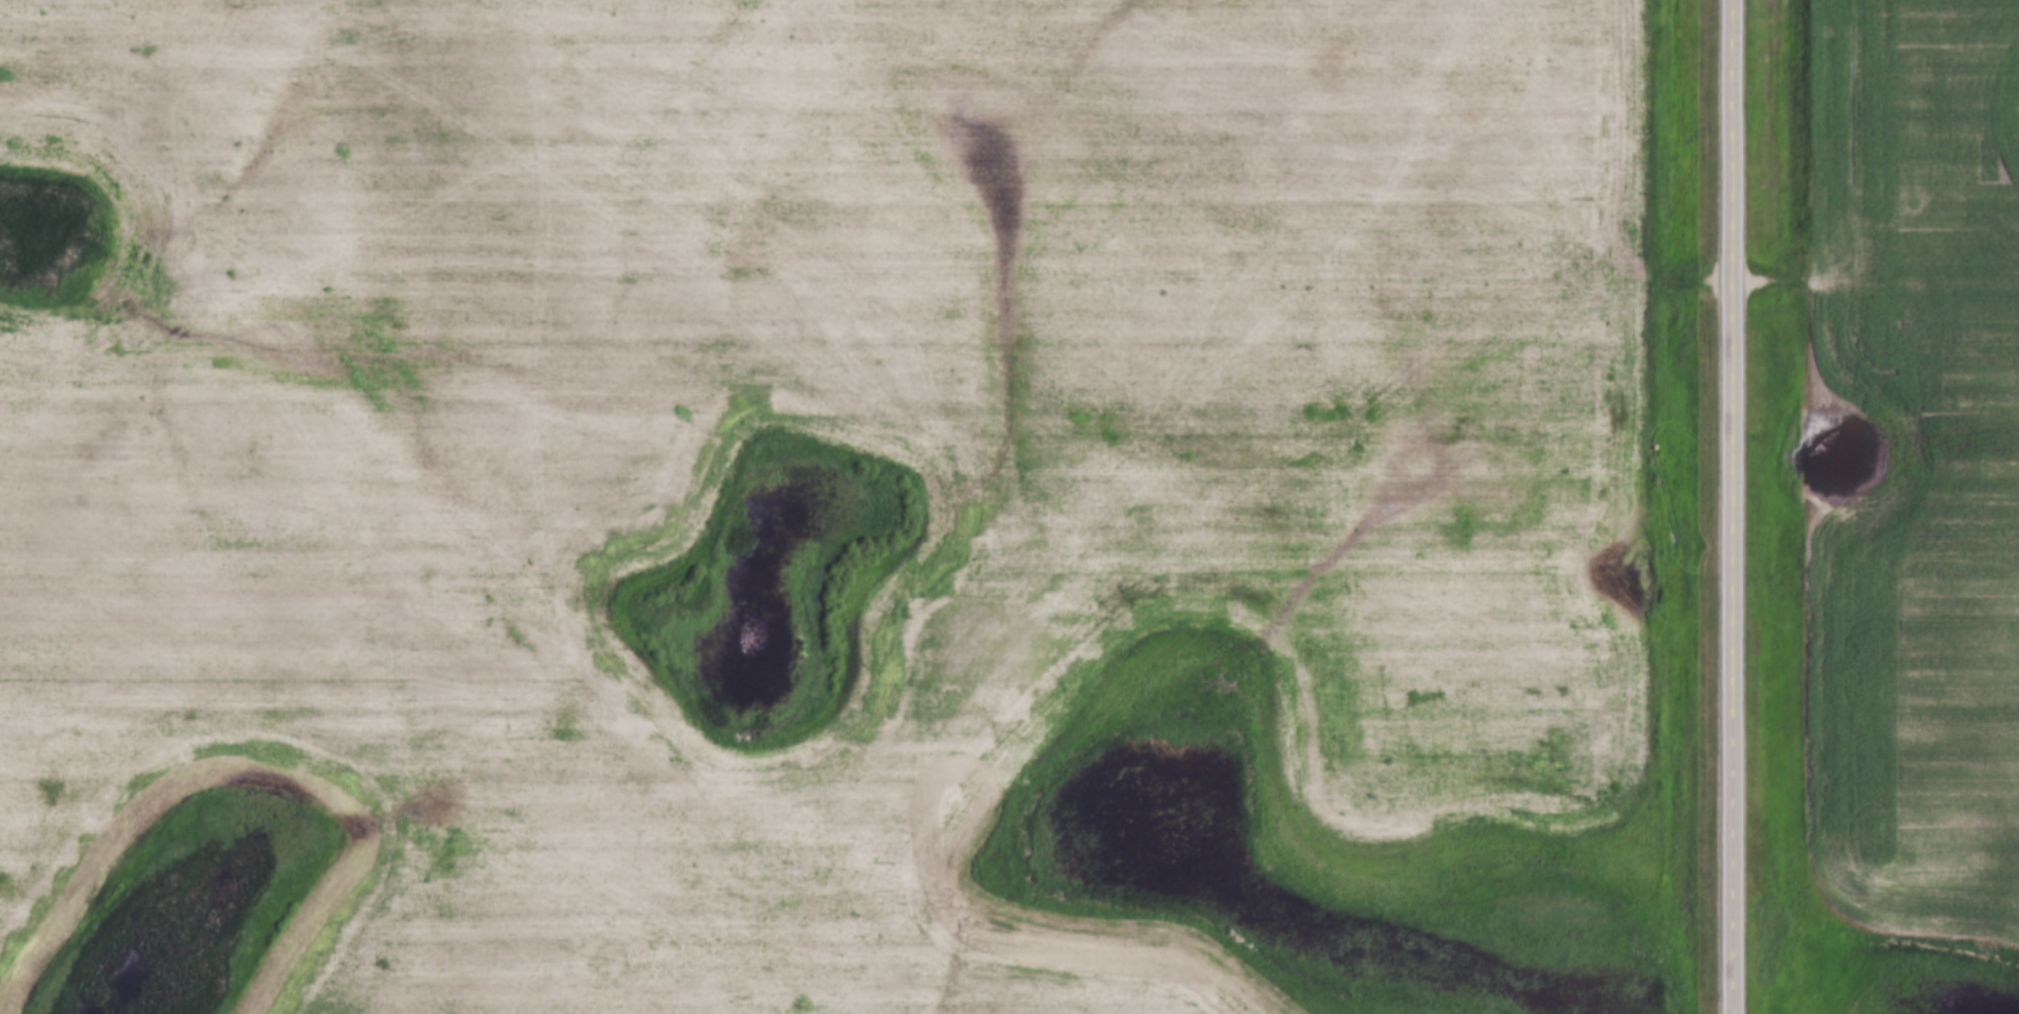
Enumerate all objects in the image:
road: (1731, 506)

